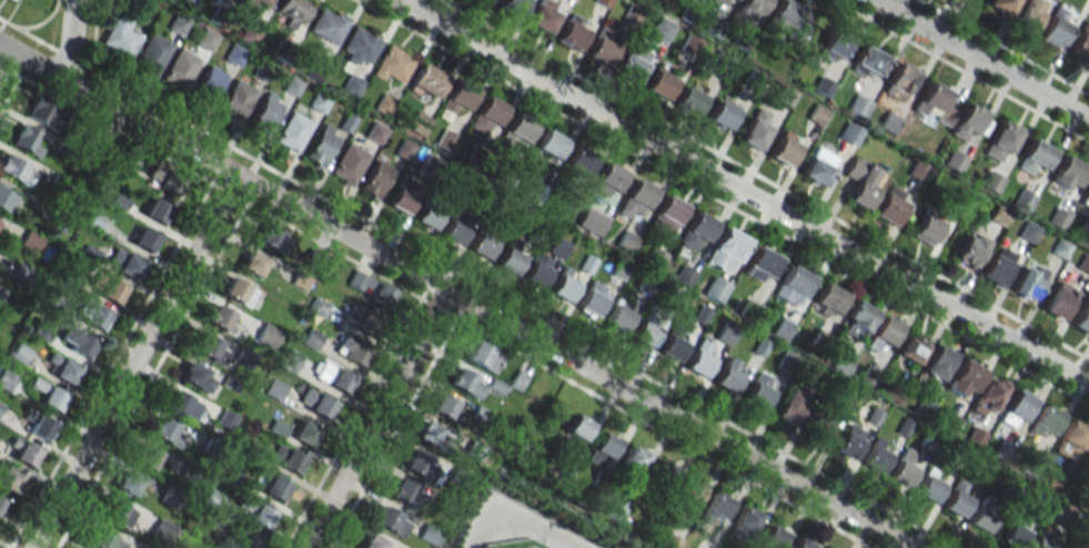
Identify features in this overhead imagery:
building: (224, 0)
building: (484, 1)
building: (244, 2)
building: (264, 2)
building: (725, 2)
building: (1001, 6)
building: (511, 8)
building: (752, 9)
building: (293, 11)
building: (543, 16)
building: (1029, 16)
building: (787, 18)
building: (327, 24)
building: (1058, 27)
building: (662, 30)
building: (573, 34)
building: (121, 37)
building: (206, 39)
road: (69, 40)
building: (1081, 43)
building: (835, 44)
road: (4, 47)
building: (359, 47)
road: (1002, 47)
building: (602, 50)
building: (151, 54)
building: (234, 54)
road: (4, 57)
building: (869, 60)
road: (980, 60)
building: (633, 62)
road: (37, 65)
building: (392, 65)
building: (180, 69)
road: (9, 70)
road: (960, 71)
building: (210, 79)
building: (900, 79)
building: (427, 81)
building: (659, 84)
building: (236, 99)
building: (456, 100)
building: (689, 100)
building: (935, 106)
building: (265, 112)
building: (44, 113)
building: (722, 113)
building: (818, 114)
building: (487, 115)
building: (969, 122)
building: (755, 130)
building: (293, 131)
building: (516, 131)
building: (849, 134)
building: (446, 140)
building: (24, 141)
building: (1001, 141)
building: (551, 143)
building: (321, 144)
building: (99, 146)
building: (784, 149)
building: (69, 152)
building: (1036, 156)
building: (127, 159)
building: (579, 161)
building: (347, 164)
building: (819, 165)
building: (13, 171)
building: (1069, 173)
building: (161, 177)
building: (375, 179)
road: (764, 179)
building: (608, 180)
building: (58, 181)
building: (991, 181)
building: (860, 182)
road: (743, 191)
building: (403, 195)
building: (1086, 196)
building: (636, 200)
building: (1025, 200)
building: (6, 201)
building: (118, 202)
road: (722, 202)
building: (889, 205)
building: (153, 211)
building: (428, 214)
building: (667, 214)
building: (998, 214)
building: (1058, 217)
building: (91, 220)
building: (592, 221)
building: (61, 223)
building: (455, 229)
building: (926, 229)
building: (696, 232)
building: (1028, 232)
building: (142, 240)
building: (29, 241)
building: (268, 241)
building: (626, 241)
building: (482, 244)
building: (558, 247)
building: (970, 248)
building: (726, 251)
building: (88, 254)
building: (510, 261)
building: (253, 263)
building: (123, 264)
building: (1083, 264)
building: (760, 265)
building: (997, 266)
building: (537, 270)
building: (19, 273)
building: (70, 278)
building: (1028, 281)
road: (477, 284)
building: (563, 285)
building: (791, 285)
building: (105, 287)
building: (715, 288)
building: (371, 290)
building: (238, 291)
building: (1, 293)
building: (591, 300)
building: (828, 300)
building: (1059, 300)
building: (53, 303)
building: (317, 306)
building: (90, 314)
road: (486, 314)
building: (617, 317)
building: (1082, 317)
building: (221, 318)
building: (857, 319)
building: (361, 322)
building: (40, 332)
building: (884, 332)
building: (645, 333)
building: (725, 334)
building: (268, 336)
building: (311, 338)
building: (75, 343)
building: (673, 346)
building: (911, 347)
building: (211, 348)
building: (351, 352)
building: (21, 355)
building: (484, 356)
building: (700, 358)
building: (290, 359)
road: (134, 362)
building: (938, 363)
building: (64, 367)
building: (331, 374)
building: (727, 376)
building: (196, 377)
building: (964, 378)
building: (7, 379)
building: (465, 383)
building: (274, 388)
building: (759, 390)
building: (49, 393)
building: (989, 395)
building: (315, 403)
building: (182, 405)
building: (1, 407)
building: (790, 407)
building: (1018, 408)
building: (225, 418)
road: (375, 419)
building: (1046, 420)
building: (40, 424)
building: (819, 426)
building: (578, 427)
building: (163, 429)
building: (304, 433)
building: (428, 433)
building: (1073, 434)
building: (849, 440)
building: (602, 447)
building: (1087, 450)
building: (26, 451)
building: (875, 455)
building: (148, 456)
building: (285, 458)
building: (635, 458)
building: (416, 463)
building: (903, 469)
building: (661, 475)
building: (9, 477)
building: (128, 483)
building: (240, 483)
building: (928, 487)
building: (402, 490)
building: (689, 491)
building: (956, 499)
building: (2, 504)
building: (716, 506)
building: (119, 514)
building: (985, 514)
building: (261, 517)
building: (391, 520)
building: (744, 522)
building: (164, 528)
road: (517, 528)
building: (1015, 534)
building: (773, 537)
building: (104, 540)
building: (1045, 540)
building: (249, 542)
building: (670, 542)
building: (801, 544)

